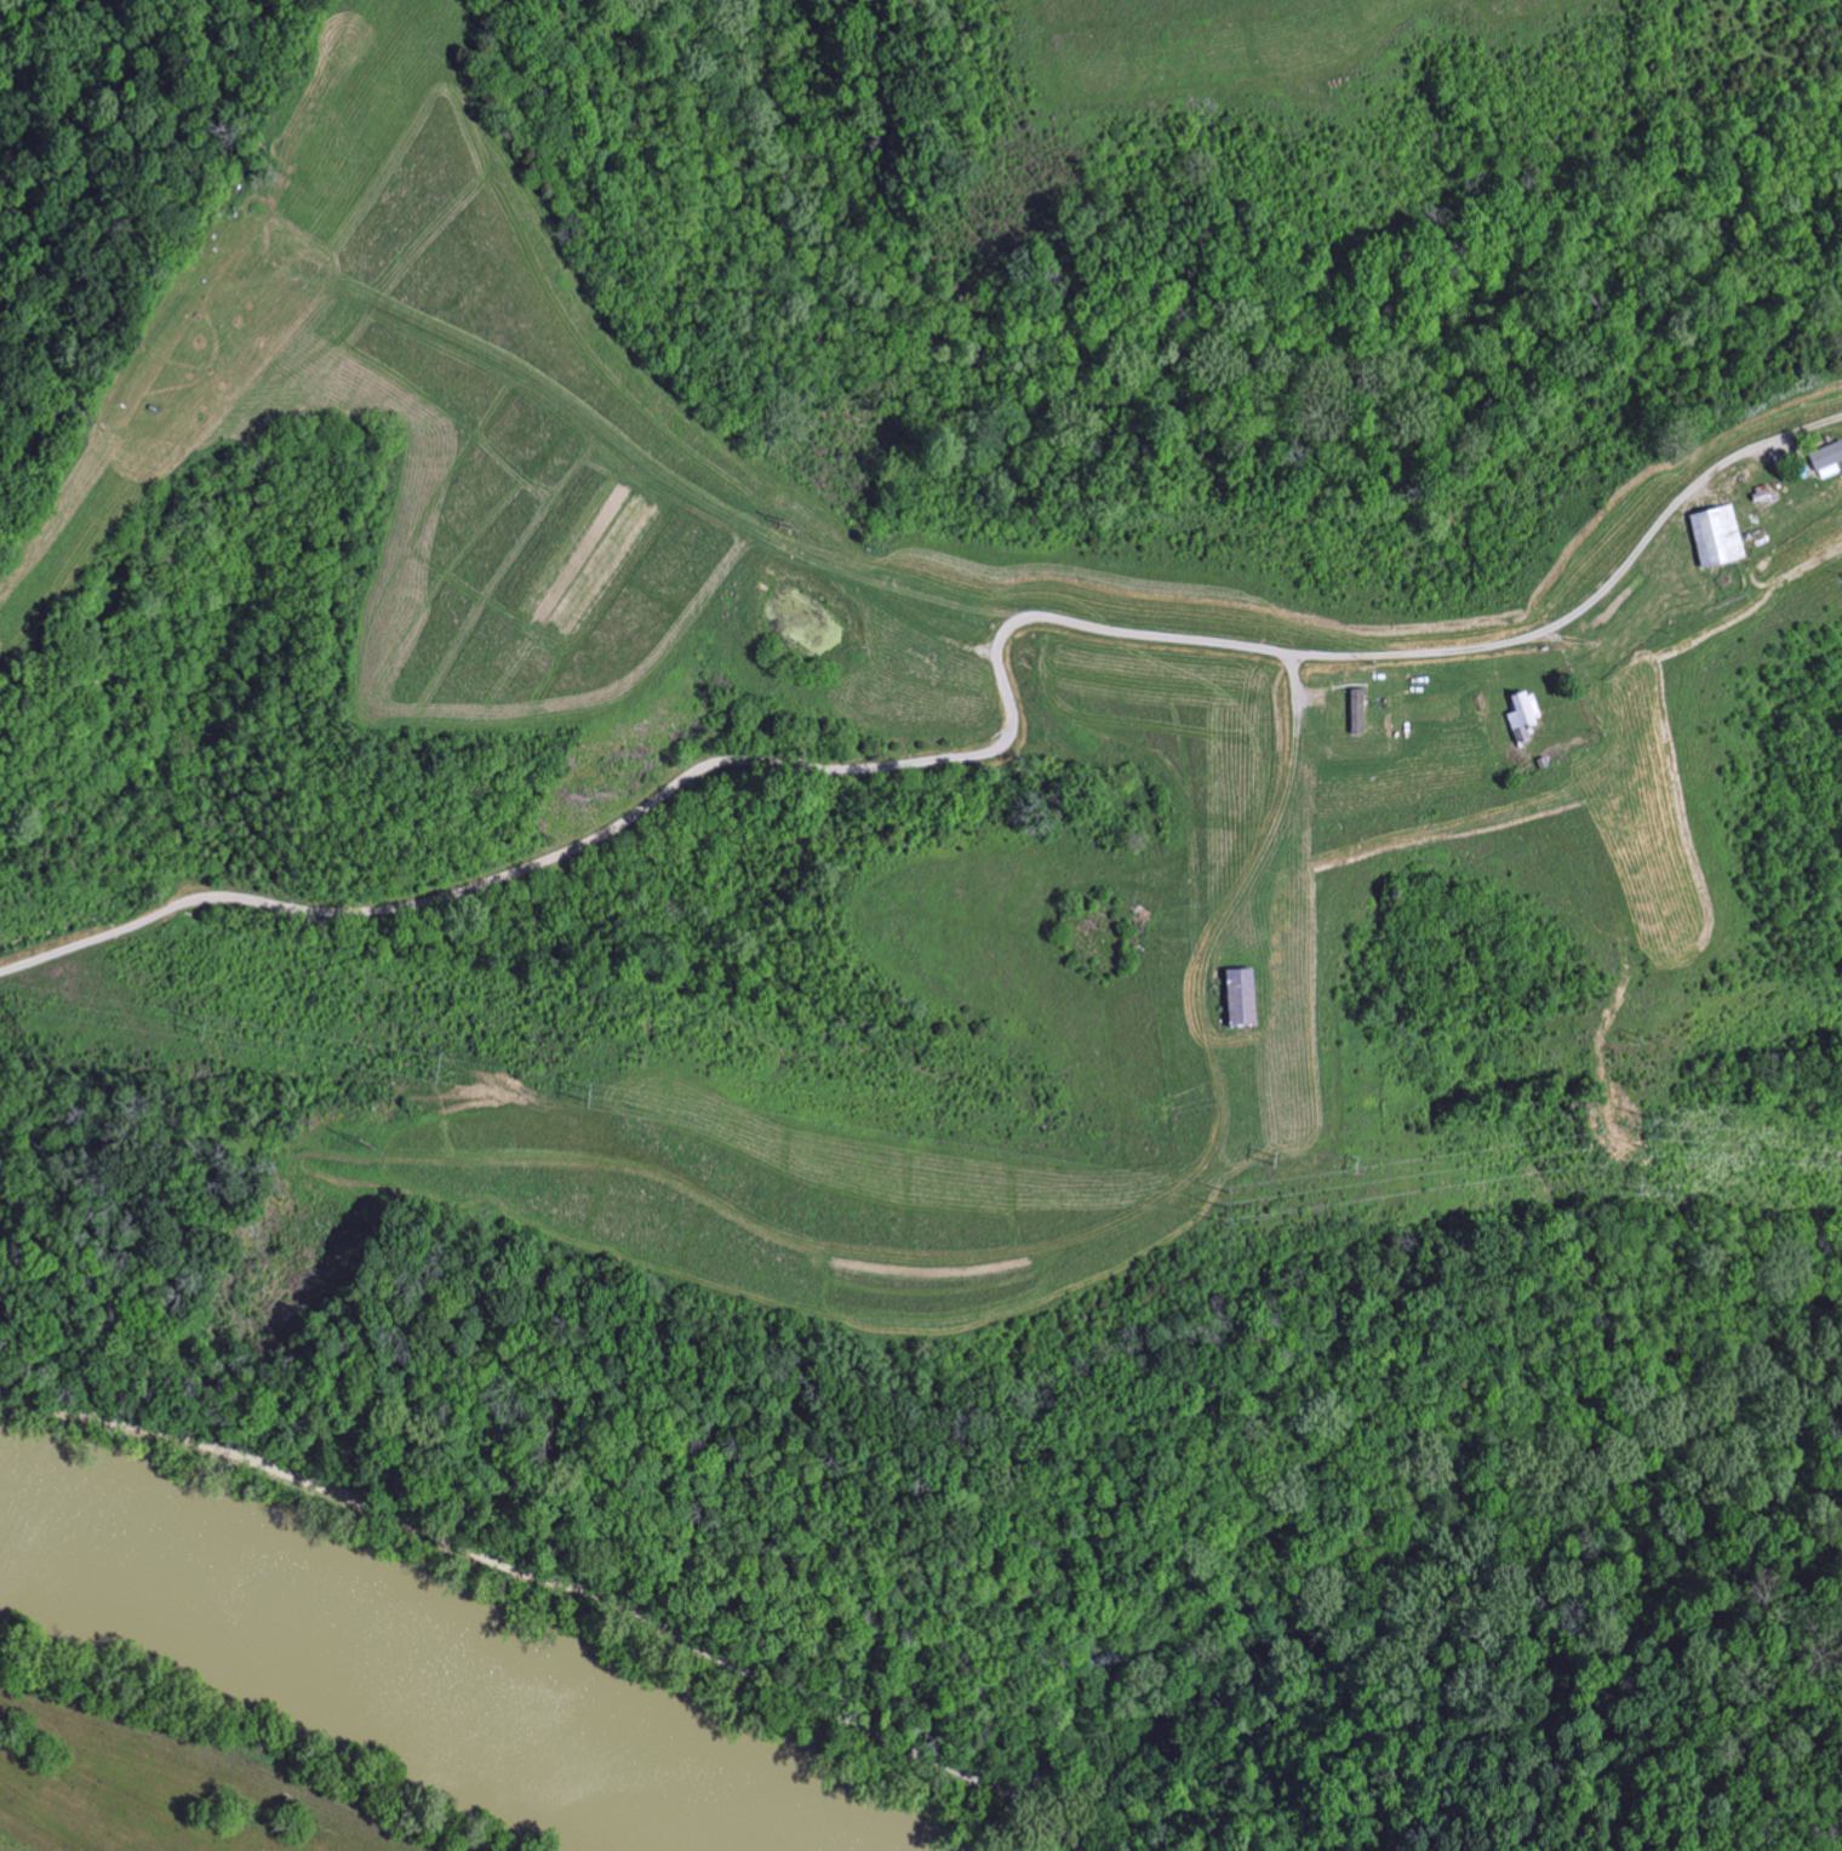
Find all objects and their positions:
road: (1807, 429)
building: (1825, 456)
power tower: (782, 524)
building: (1715, 536)
building: (1522, 715)
building: (1356, 721)
road: (957, 758)
road: (1268, 835)
building: (1237, 998)
power tower: (630, 1016)
power tower: (185, 1023)
power tower: (1629, 1034)
power tower: (623, 1051)
power tower: (414, 1063)
power tower: (567, 1087)
power tower: (1161, 1103)
power tower: (1640, 1129)
power tower: (328, 1141)
power tower: (1263, 1154)
power tower: (1344, 1160)
power tower: (1632, 1179)
power tower: (1214, 1202)
road: (559, 1572)
river: (379, 1666)
road: (1069, 1723)

